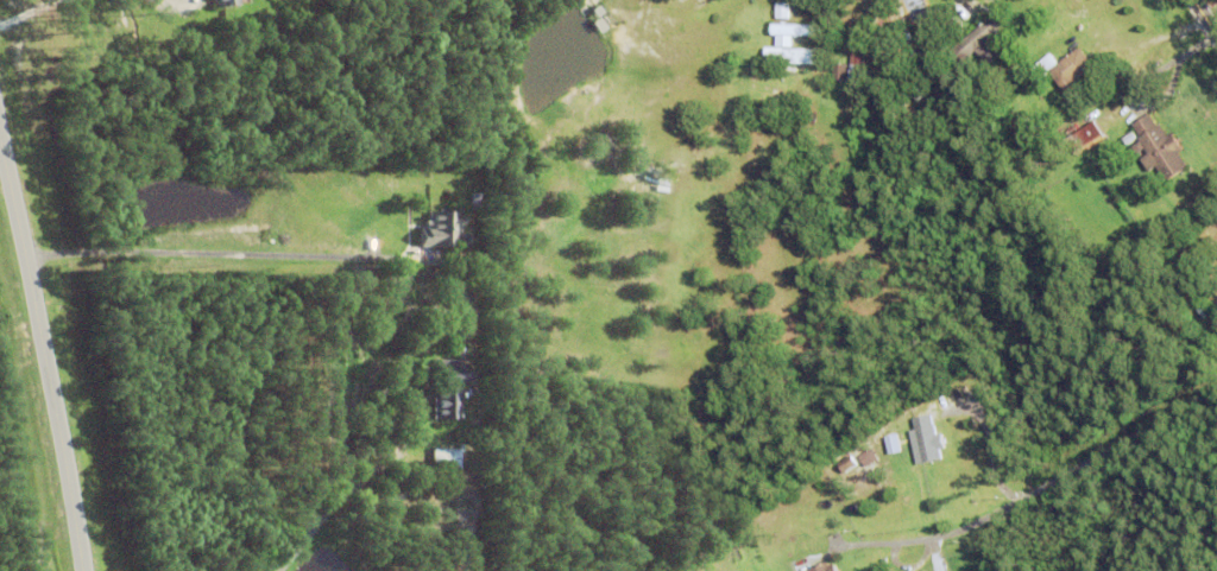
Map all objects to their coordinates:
building: (226, 2)
building: (920, 5)
building: (783, 9)
road: (32, 14)
road: (1205, 17)
building: (928, 19)
building: (792, 32)
road: (1158, 37)
building: (983, 39)
building: (788, 56)
building: (858, 68)
building: (788, 70)
building: (1066, 70)
building: (839, 71)
building: (1033, 71)
building: (959, 80)
building: (1087, 138)
building: (1159, 148)
building: (1055, 151)
building: (442, 230)
building: (1200, 246)
road: (214, 254)
building: (458, 297)
road: (42, 342)
building: (449, 391)
building: (926, 444)
road: (365, 457)
building: (447, 459)
building: (847, 464)
road: (1046, 486)
building: (826, 567)

